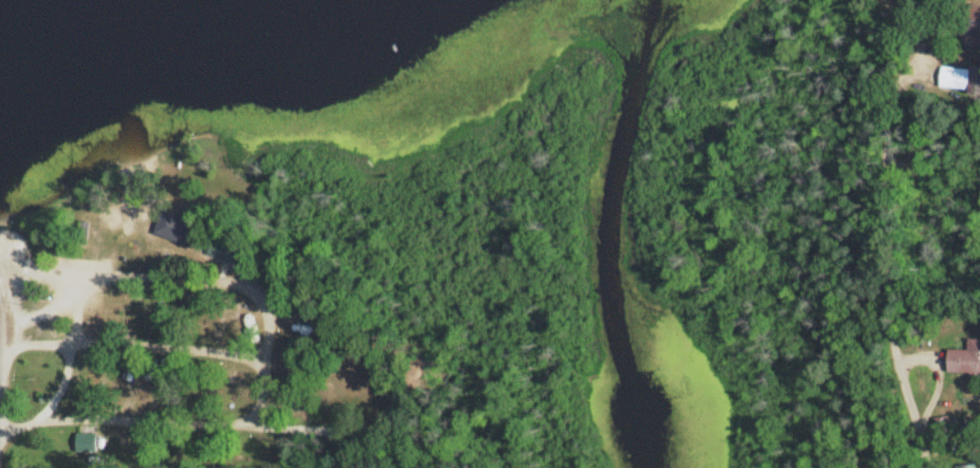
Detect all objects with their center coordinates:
building: (961, 79)
road: (888, 104)
park: (177, 199)
building: (184, 229)
river: (609, 230)
road: (202, 268)
road: (890, 315)
building: (966, 358)
road: (63, 365)
road: (223, 420)
building: (87, 444)
building: (970, 466)

